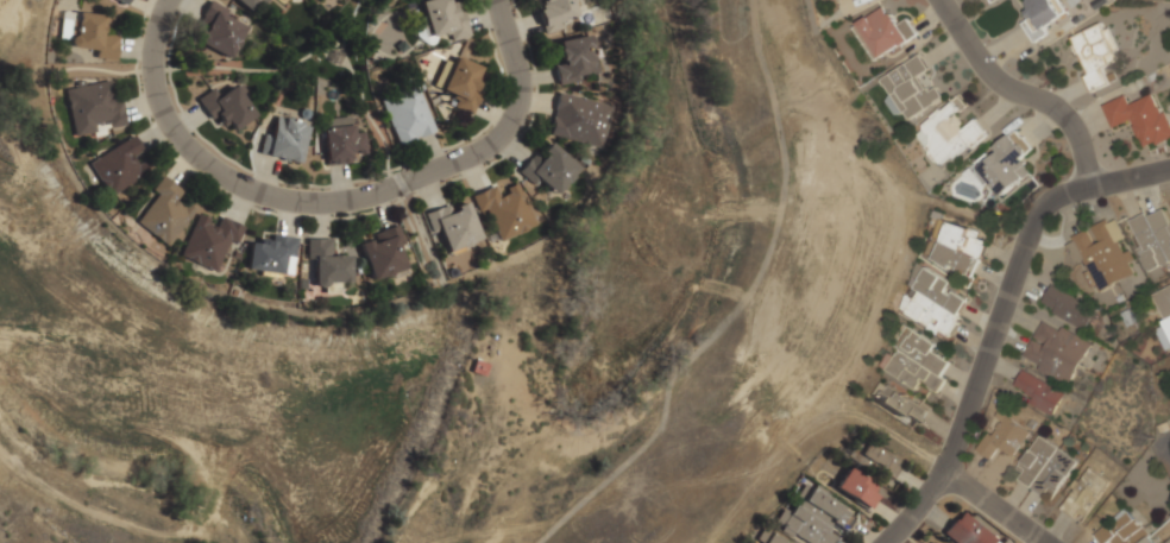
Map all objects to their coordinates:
building: (124, 1)
building: (251, 5)
building: (555, 12)
building: (1040, 17)
building: (444, 19)
building: (220, 30)
building: (886, 31)
building: (92, 34)
building: (1094, 53)
building: (574, 59)
building: (442, 74)
building: (463, 84)
building: (911, 87)
road: (1018, 95)
building: (94, 105)
building: (226, 107)
building: (408, 115)
building: (1139, 118)
building: (581, 120)
building: (948, 134)
building: (284, 139)
building: (341, 141)
building: (1006, 164)
building: (119, 166)
building: (549, 168)
road: (335, 201)
building: (505, 210)
building: (165, 213)
building: (455, 227)
building: (210, 241)
building: (1152, 241)
building: (960, 247)
building: (271, 253)
building: (384, 253)
building: (1101, 254)
building: (328, 264)
road: (735, 299)
building: (931, 301)
building: (1069, 308)
building: (1163, 314)
road: (998, 318)
building: (1056, 352)
building: (911, 359)
building: (935, 381)
building: (1042, 393)
building: (898, 404)
building: (1004, 437)
building: (877, 460)
building: (1044, 468)
building: (856, 487)
building: (1084, 493)
road: (992, 509)
building: (814, 518)
building: (1124, 530)
building: (968, 531)
building: (769, 538)

